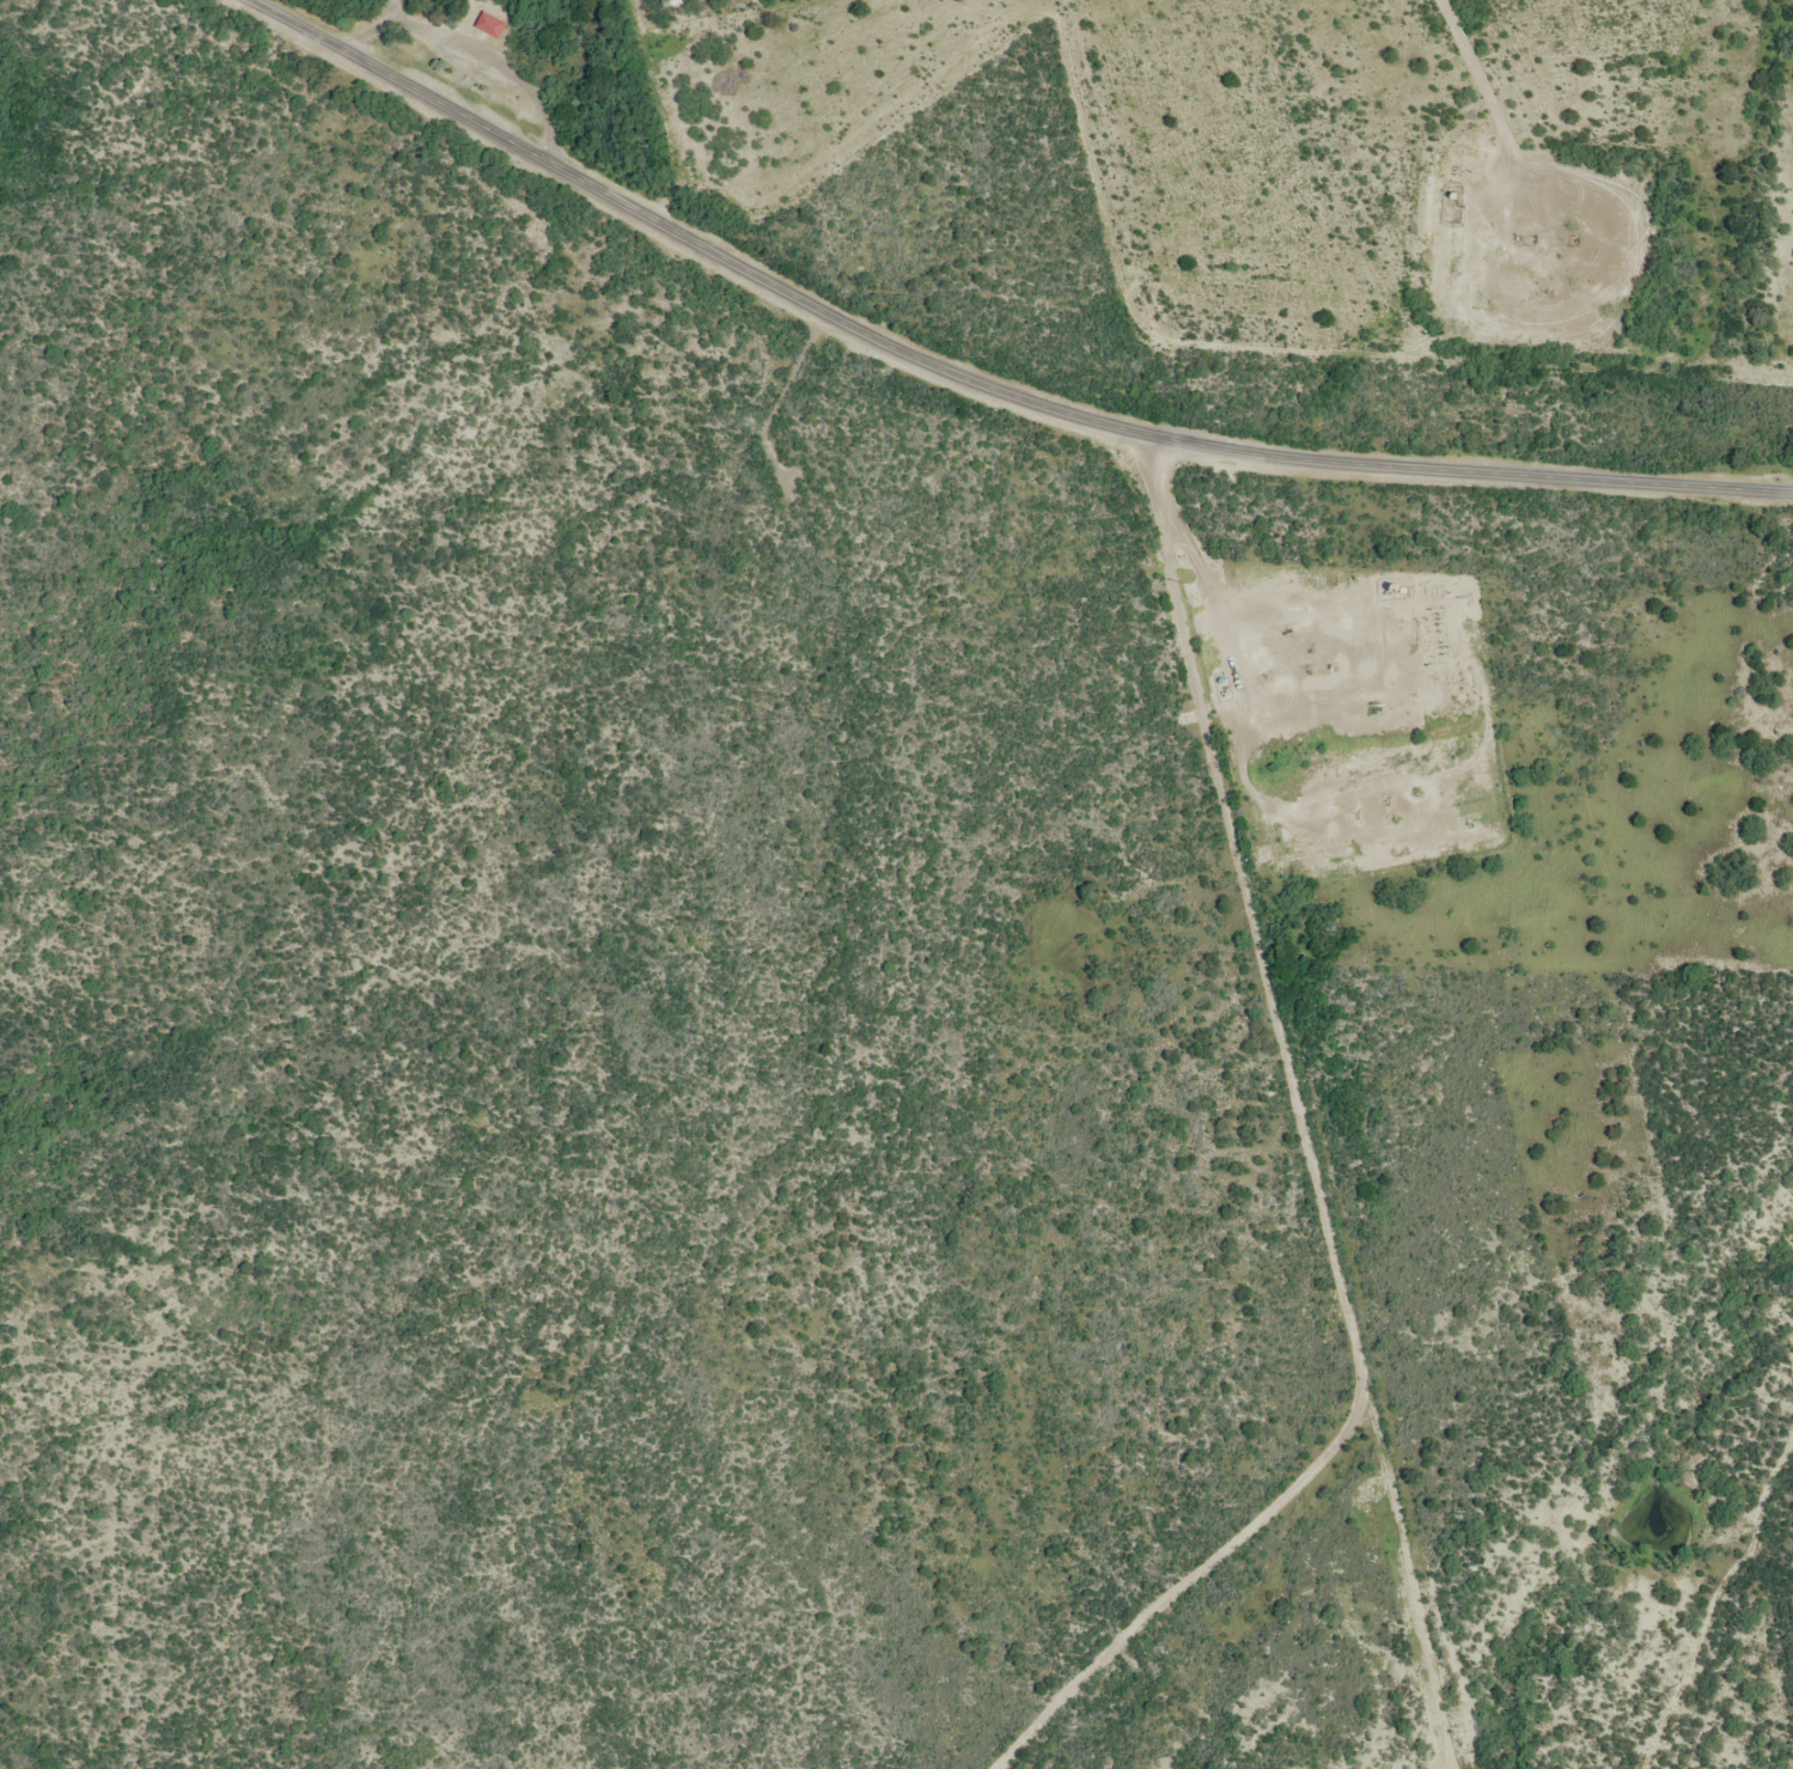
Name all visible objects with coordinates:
road: (689, 240)
road: (1471, 464)
road: (1225, 1155)

